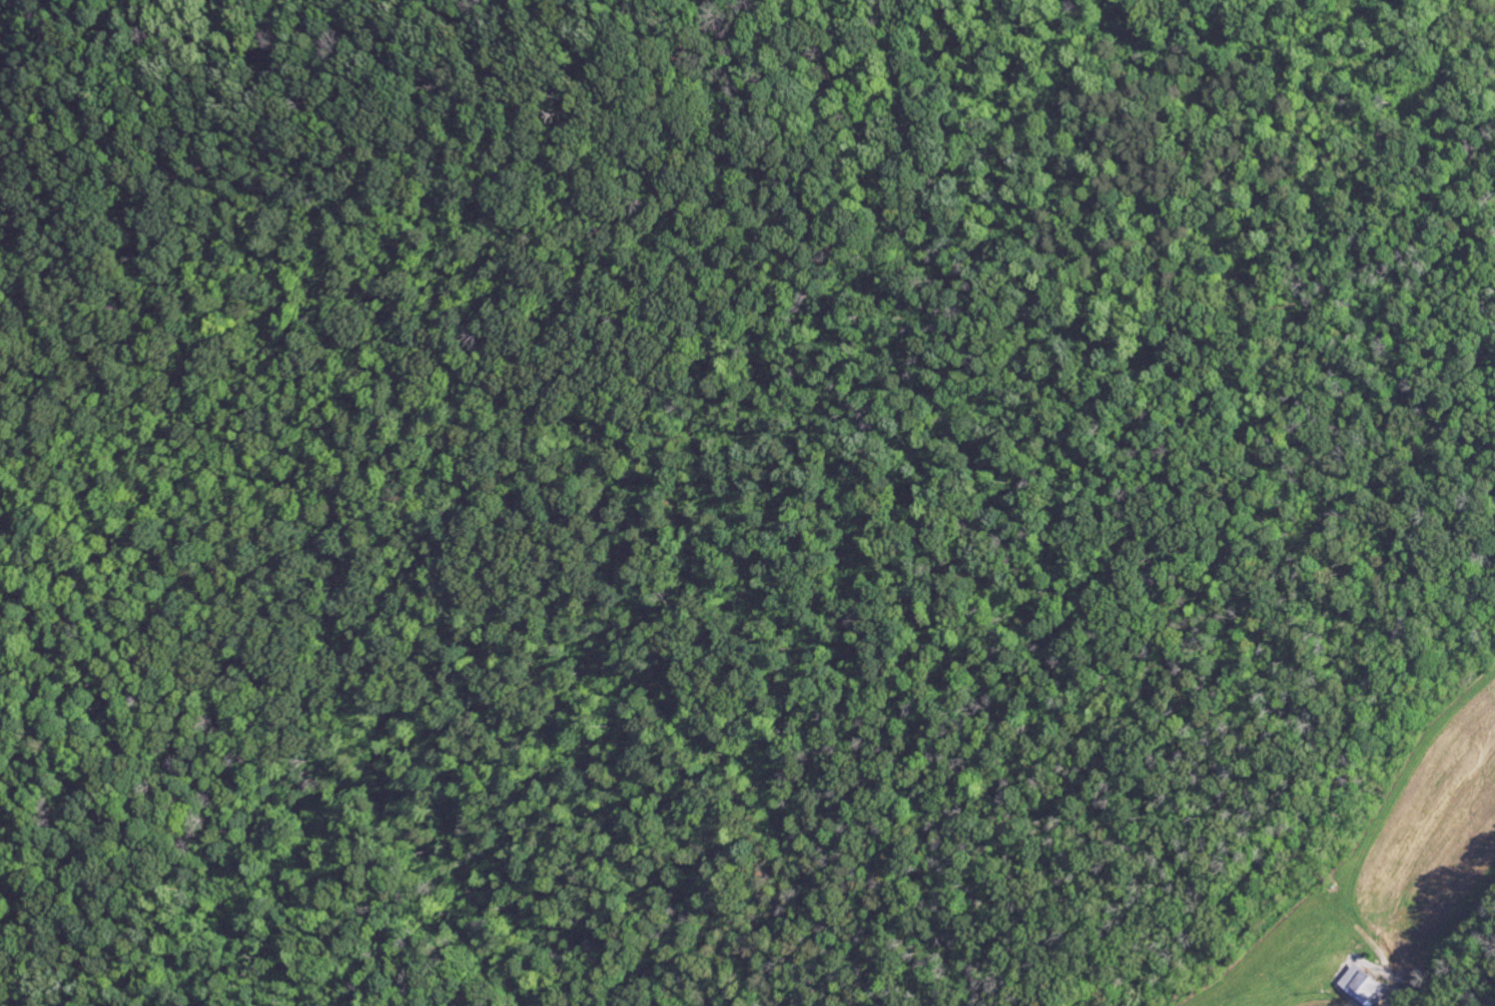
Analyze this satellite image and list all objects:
building: (1363, 987)

